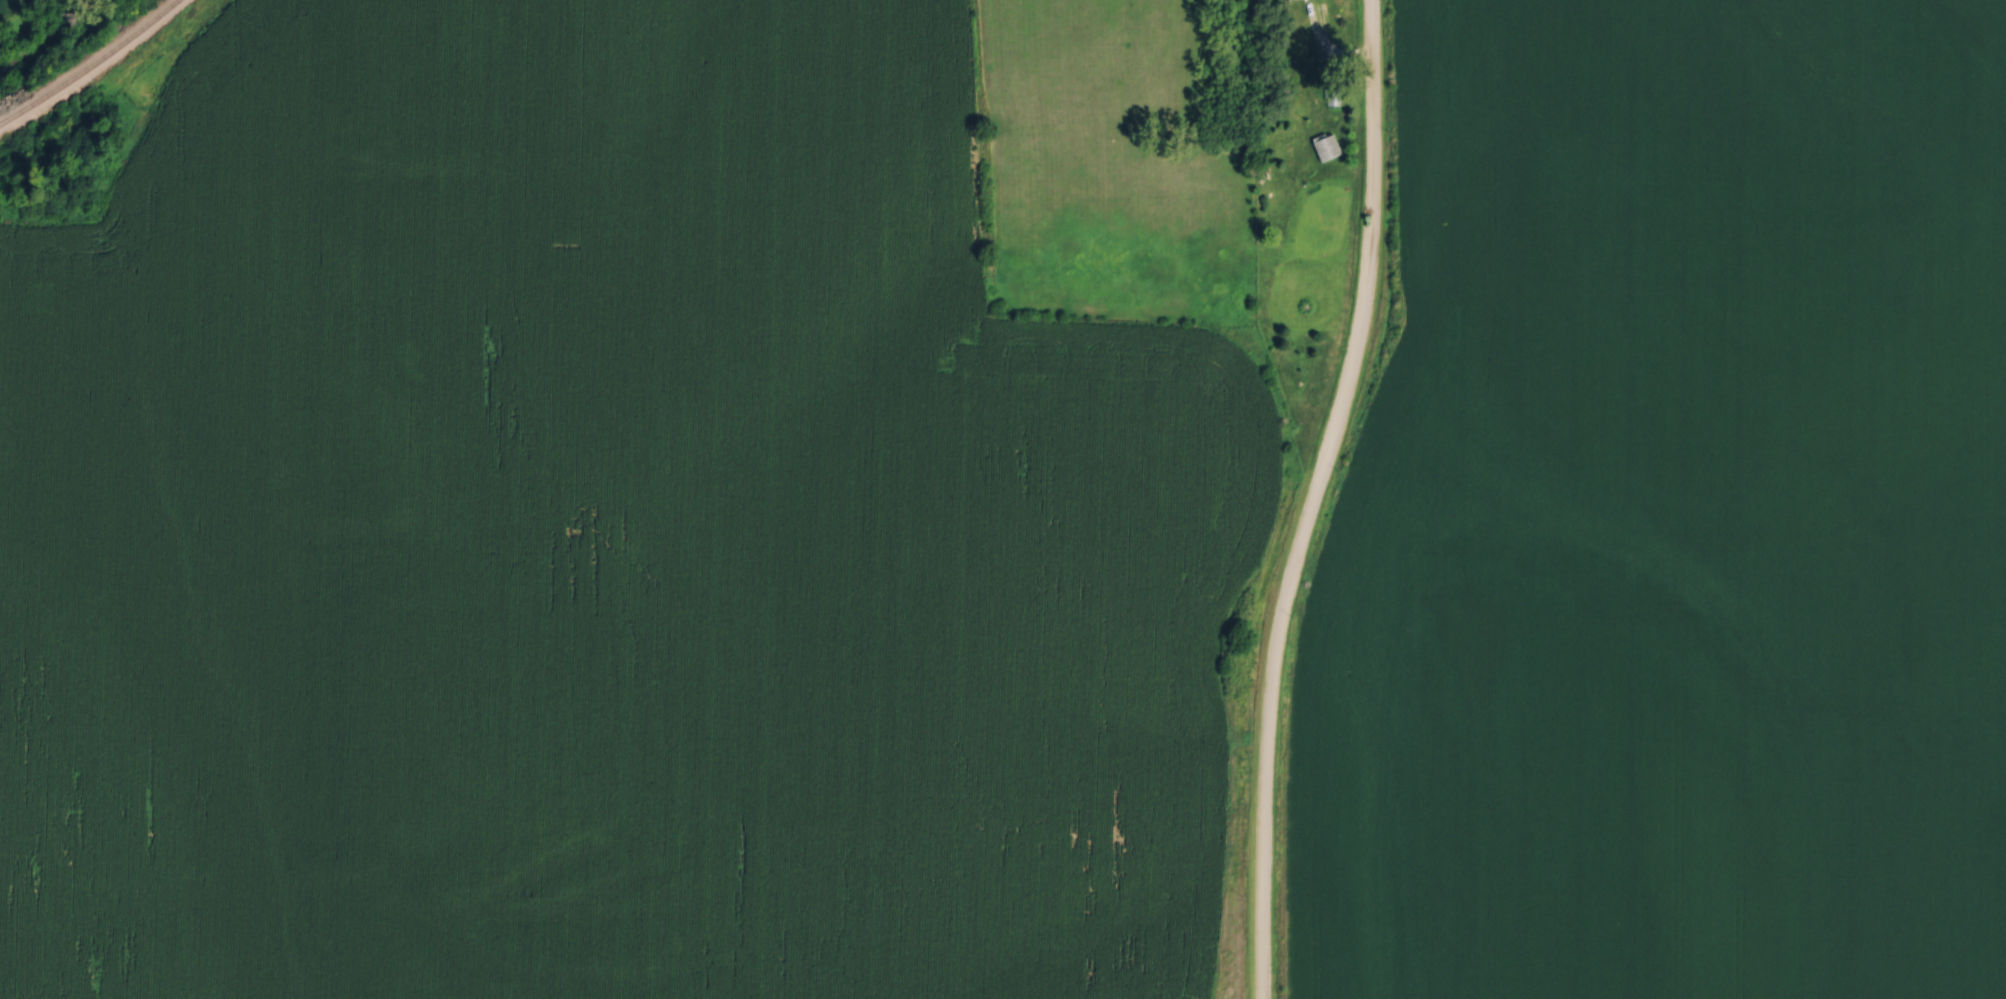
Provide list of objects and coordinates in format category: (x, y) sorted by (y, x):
railway: (90, 65)
building: (1334, 94)
building: (1331, 146)
road: (1313, 498)

